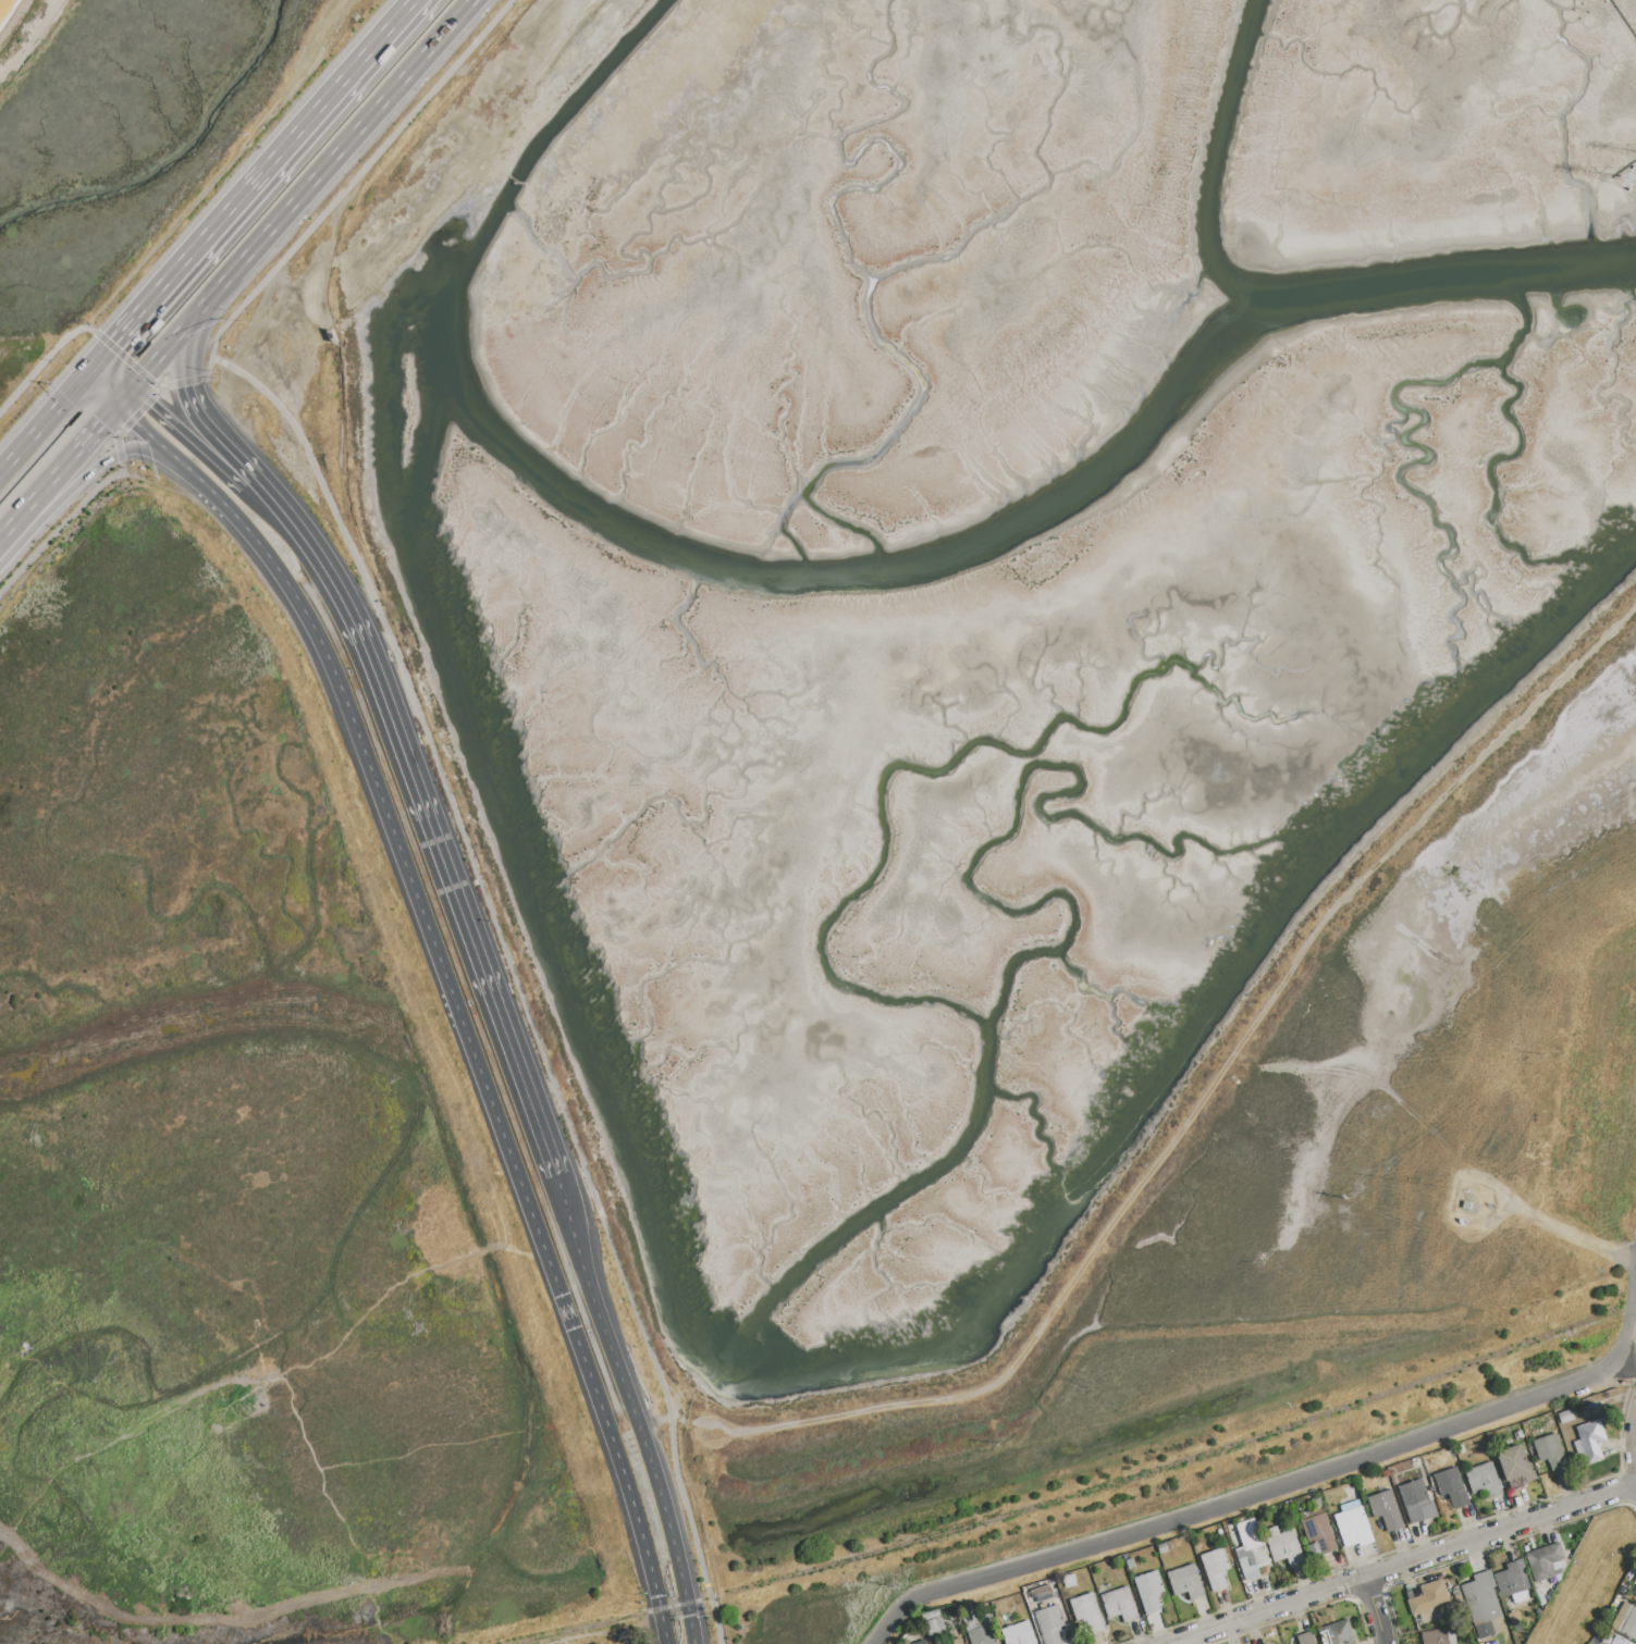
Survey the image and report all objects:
power tower: (1611, 0)
road: (23, 33)
road: (341, 88)
road: (329, 168)
power tower: (1635, 182)
road: (352, 183)
road: (188, 262)
traffic signals: (115, 345)
road: (164, 356)
road: (103, 358)
road: (186, 358)
road: (127, 360)
road: (44, 366)
road: (113, 381)
road: (183, 383)
road: (140, 384)
traffic signals: (192, 385)
road: (107, 388)
road: (76, 390)
road: (140, 398)
road: (126, 399)
traffic signals: (149, 406)
road: (126, 412)
road: (138, 413)
traffic signals: (103, 425)
road: (206, 429)
road: (190, 437)
road: (29, 443)
road: (118, 450)
road: (144, 452)
road: (76, 455)
road: (76, 479)
road: (16, 522)
road: (62, 530)
road: (418, 809)
road: (512, 976)
road: (451, 982)
road: (1203, 1092)
building: (1465, 1206)
railway: (1601, 1315)
road: (1626, 1369)
road: (624, 1388)
road: (1634, 1436)
building: (1591, 1439)
building: (1551, 1454)
building: (1516, 1464)
railway: (1168, 1467)
building: (1485, 1480)
road: (1288, 1485)
building: (1452, 1488)
road: (1620, 1490)
street lamp: (1577, 1491)
road: (1241, 1492)
building: (1417, 1501)
building: (1386, 1511)
building: (1354, 1524)
building: (1318, 1535)
road: (1409, 1546)
building: (1286, 1548)
road: (1484, 1552)
building: (1252, 1556)
building: (1543, 1561)
road: (1401, 1562)
building: (1216, 1568)
building: (1186, 1582)
building: (1513, 1582)
building: (1149, 1591)
building: (1634, 1591)
building: (1430, 1597)
road: (1352, 1599)
building: (1483, 1603)
building: (1120, 1605)
railway: (674, 1606)
road: (1374, 1609)
building: (1087, 1612)
road: (1304, 1612)
building: (1625, 1621)
road: (693, 1623)
building: (934, 1623)
building: (1048, 1624)
railway: (586, 1627)
road: (661, 1627)
building: (1019, 1634)
building: (1338, 1634)
building: (983, 1635)
building: (1435, 1636)
building: (1306, 1639)
building: (915, 1640)
building: (1620, 1640)
building: (956, 1642)

